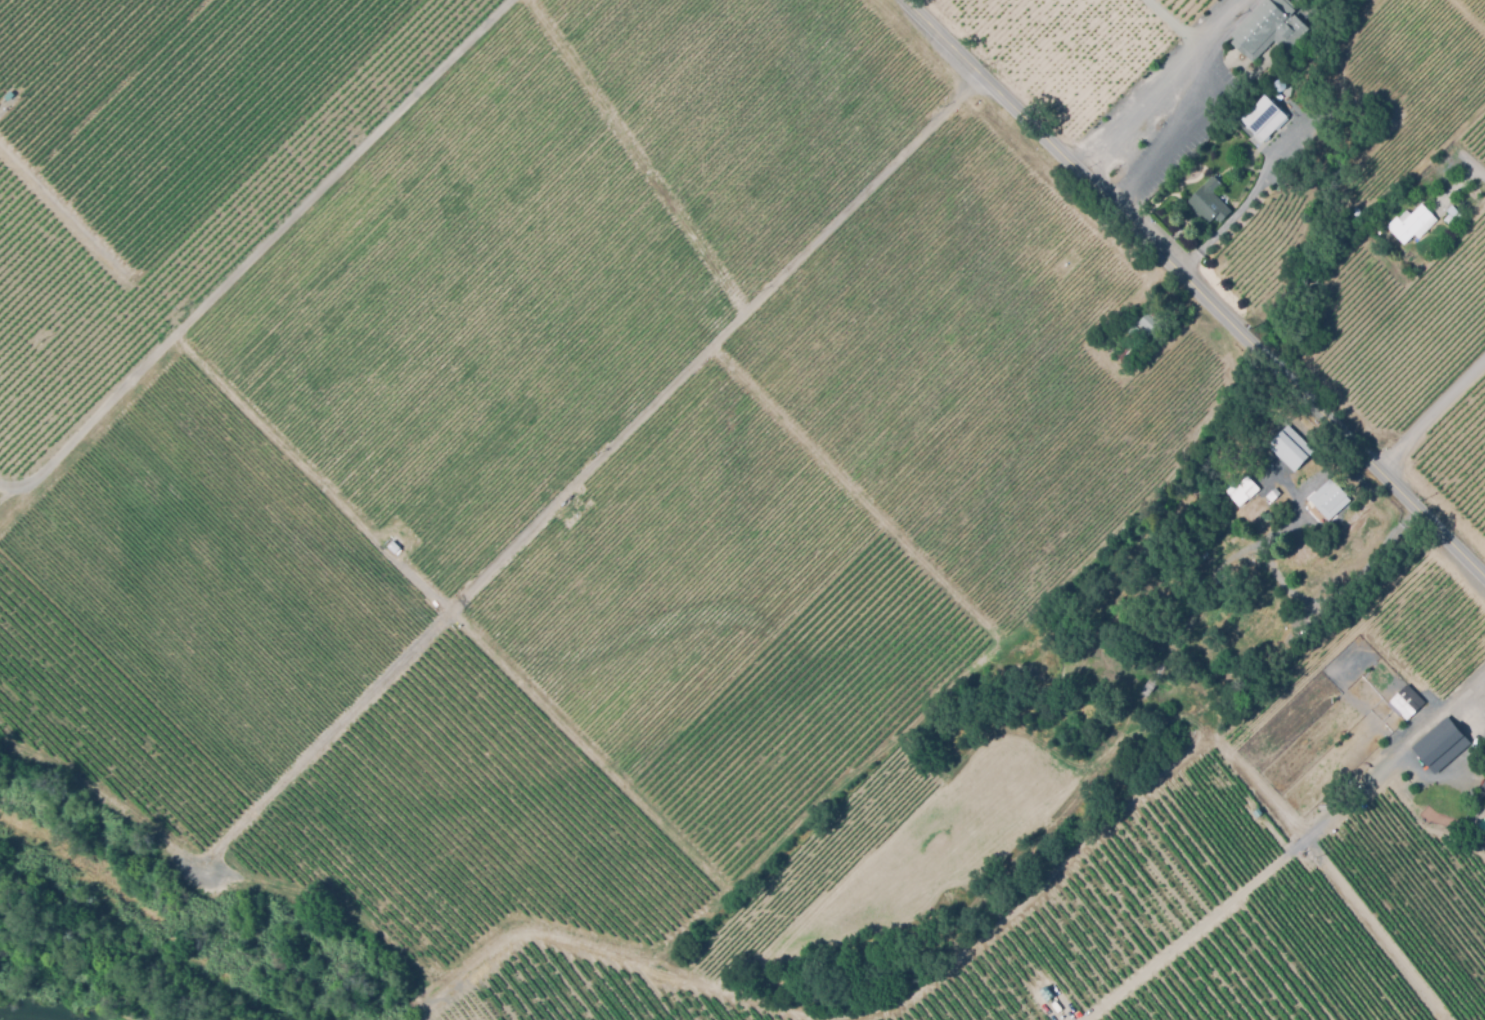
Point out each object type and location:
road: (1178, 25)
building: (1269, 28)
road: (1168, 84)
building: (1278, 84)
building: (7, 95)
building: (1263, 116)
building: (1287, 156)
road: (639, 157)
road: (1478, 173)
building: (1435, 191)
building: (1210, 201)
building: (1355, 208)
building: (1455, 213)
building: (1412, 223)
road: (1230, 224)
road: (1196, 287)
building: (1141, 324)
building: (1128, 357)
road: (1432, 415)
building: (1278, 443)
building: (1241, 488)
building: (1279, 500)
building: (1326, 505)
building: (1222, 535)
building: (393, 546)
road: (1369, 552)
road: (402, 571)
building: (1238, 574)
road: (1476, 693)
building: (1404, 702)
building: (1431, 750)
building: (1483, 784)
building: (1256, 812)
road: (1291, 851)
building: (1046, 993)
building: (1055, 1005)

